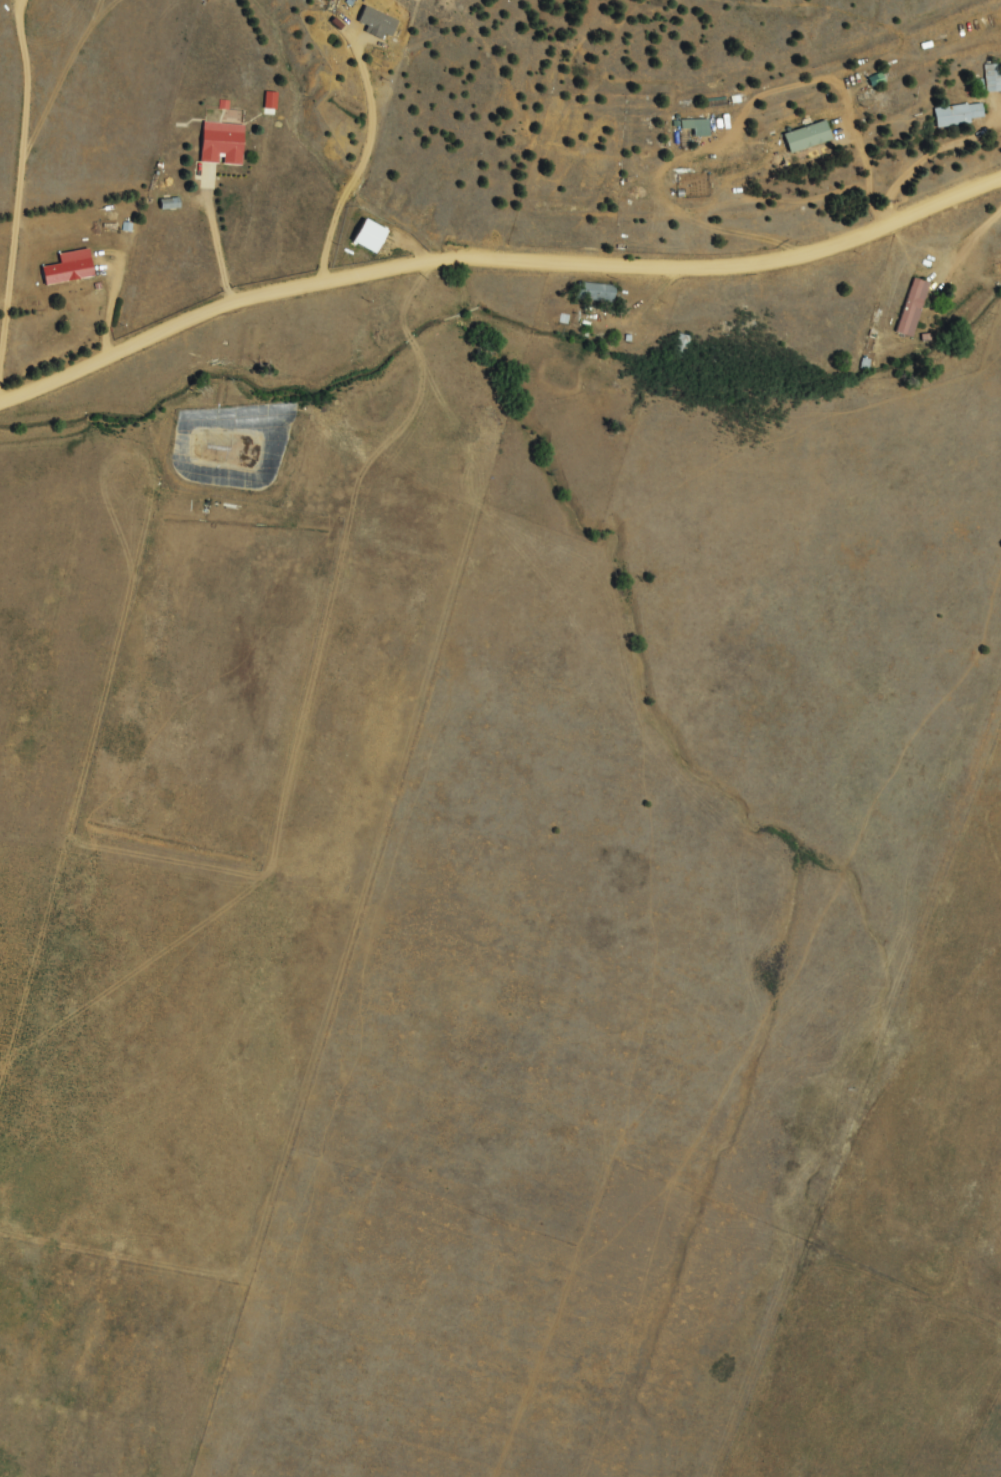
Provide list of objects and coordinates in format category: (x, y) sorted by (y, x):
building: (993, 78)
building: (877, 80)
building: (961, 115)
building: (698, 127)
building: (810, 137)
building: (225, 143)
building: (375, 237)
road: (263, 244)
road: (220, 286)
building: (598, 293)
road: (499, 306)
building: (914, 308)
building: (81, 310)
building: (683, 347)

